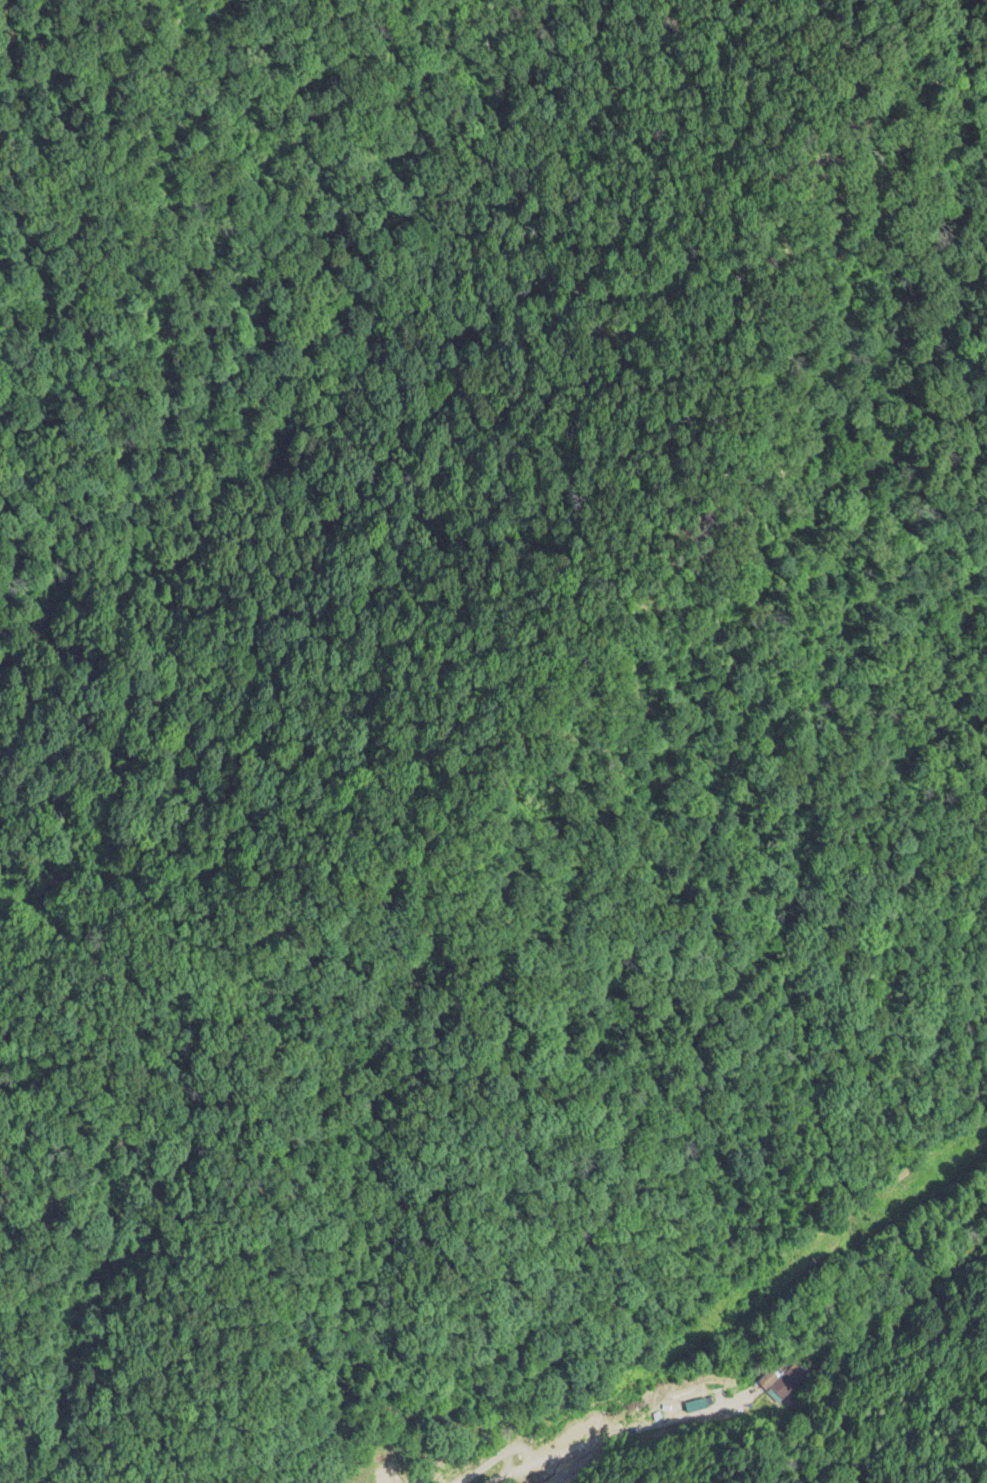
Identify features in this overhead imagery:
road: (735, 1295)
building: (775, 1384)

